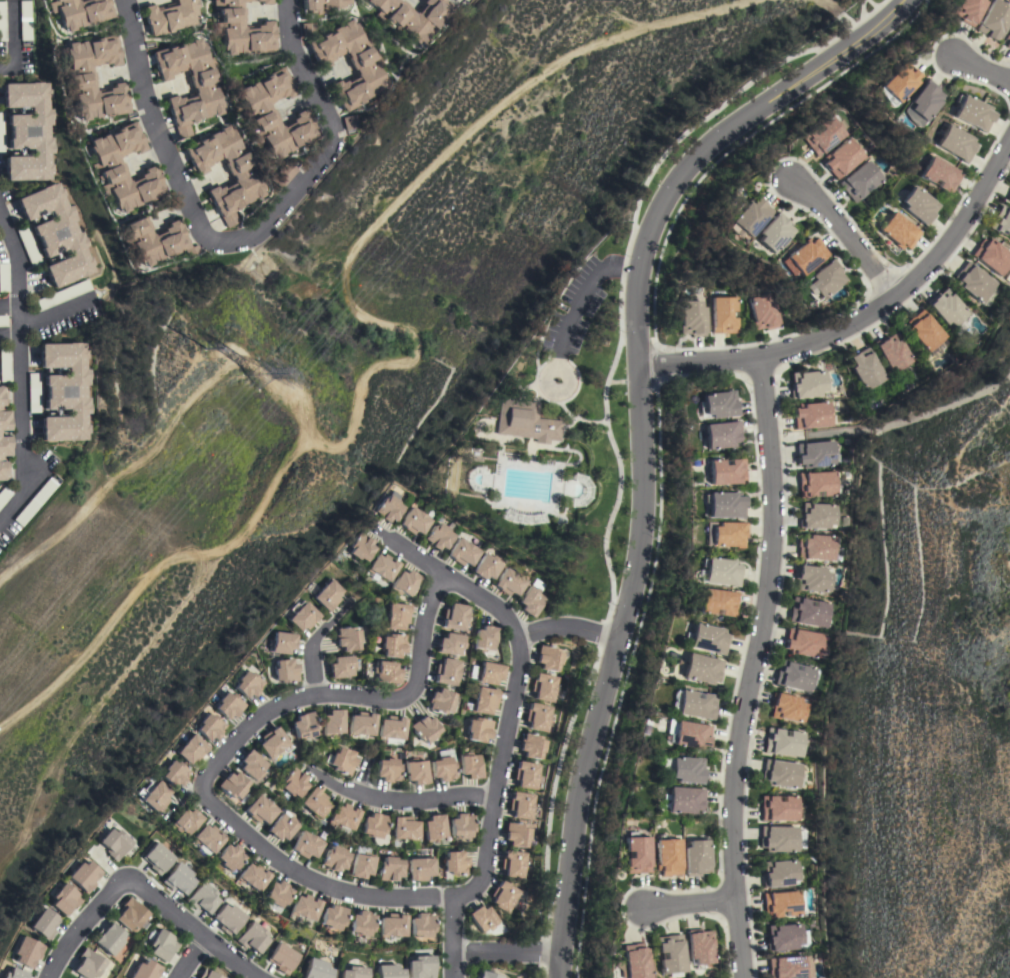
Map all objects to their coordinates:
building: (263, 1)
road: (870, 4)
building: (322, 5)
road: (860, 9)
building: (966, 10)
building: (80, 12)
building: (170, 16)
building: (412, 17)
building: (993, 19)
building: (26, 20)
building: (3, 21)
building: (307, 29)
building: (241, 30)
building: (1007, 39)
road: (16, 41)
building: (350, 63)
road: (981, 70)
building: (93, 78)
building: (897, 82)
building: (208, 89)
building: (920, 103)
building: (973, 112)
building: (275, 114)
building: (350, 122)
building: (27, 131)
building: (1, 133)
building: (822, 135)
building: (956, 143)
building: (841, 158)
building: (106, 167)
building: (283, 174)
building: (940, 174)
building: (245, 178)
building: (859, 181)
building: (1008, 197)
building: (919, 206)
building: (748, 217)
building: (1001, 220)
building: (898, 231)
building: (774, 233)
building: (55, 234)
road: (843, 235)
building: (1009, 237)
road: (239, 239)
building: (155, 240)
building: (27, 245)
building: (991, 255)
building: (803, 256)
building: (4, 277)
building: (822, 280)
building: (973, 281)
building: (63, 294)
road: (578, 297)
road: (10, 304)
building: (946, 307)
road: (56, 312)
building: (762, 312)
road: (861, 312)
building: (722, 315)
building: (692, 318)
building: (3, 320)
building: (923, 330)
road: (10, 336)
building: (892, 351)
building: (5, 364)
road: (21, 368)
power tower: (238, 368)
building: (864, 369)
building: (806, 384)
road: (566, 388)
building: (63, 391)
building: (33, 393)
building: (718, 404)
building: (3, 411)
building: (811, 415)
building: (525, 421)
road: (608, 431)
road: (639, 432)
building: (721, 434)
building: (815, 454)
building: (1, 458)
building: (725, 471)
building: (817, 484)
building: (4, 495)
building: (34, 502)
building: (724, 504)
building: (386, 509)
building: (816, 516)
building: (413, 521)
building: (724, 534)
building: (438, 536)
building: (358, 547)
building: (815, 547)
building: (463, 552)
building: (381, 567)
building: (486, 567)
building: (722, 572)
building: (811, 579)
building: (509, 582)
building: (403, 583)
building: (326, 595)
building: (532, 598)
building: (718, 602)
building: (808, 612)
building: (301, 616)
building: (396, 616)
building: (454, 617)
road: (566, 626)
building: (347, 639)
building: (484, 639)
building: (709, 639)
building: (280, 642)
building: (803, 642)
building: (451, 644)
building: (392, 645)
road: (309, 657)
building: (548, 658)
building: (341, 667)
road: (750, 667)
building: (702, 668)
building: (284, 671)
building: (386, 672)
building: (446, 672)
building: (488, 673)
building: (794, 675)
building: (247, 684)
building: (543, 687)
road: (345, 696)
building: (484, 700)
building: (441, 701)
building: (693, 703)
building: (228, 706)
building: (787, 707)
building: (537, 716)
building: (332, 723)
building: (361, 724)
building: (304, 725)
building: (209, 727)
road: (504, 728)
building: (424, 729)
building: (478, 729)
building: (391, 730)
building: (689, 734)
building: (783, 742)
building: (272, 743)
building: (531, 746)
building: (190, 749)
building: (342, 761)
building: (251, 765)
building: (470, 765)
building: (443, 766)
building: (387, 770)
building: (686, 770)
building: (416, 771)
building: (780, 773)
building: (173, 774)
building: (526, 775)
building: (293, 783)
building: (233, 785)
building: (152, 796)
road: (399, 797)
building: (684, 800)
building: (315, 803)
building: (520, 805)
building: (779, 808)
building: (259, 809)
building: (343, 816)
building: (185, 821)
building: (374, 825)
building: (461, 825)
building: (281, 827)
building: (433, 828)
building: (404, 829)
building: (516, 834)
building: (207, 838)
building: (778, 838)
building: (113, 843)
building: (306, 845)
building: (636, 853)
building: (667, 856)
building: (229, 857)
building: (157, 858)
building: (696, 858)
building: (334, 859)
building: (455, 863)
building: (513, 863)
building: (361, 865)
building: (420, 868)
building: (390, 869)
building: (779, 873)
building: (83, 876)
building: (252, 877)
building: (178, 878)
road: (308, 880)
building: (276, 893)
building: (503, 896)
building: (202, 898)
building: (64, 899)
building: (781, 903)
road: (686, 905)
building: (303, 907)
building: (130, 914)
building: (332, 917)
building: (482, 918)
building: (228, 919)
building: (43, 923)
building: (361, 923)
road: (81, 924)
building: (391, 925)
building: (421, 925)
road: (187, 928)
building: (252, 937)
building: (783, 937)
building: (108, 939)
building: (162, 944)
building: (699, 947)
building: (26, 952)
road: (505, 953)
building: (669, 953)
building: (282, 958)
road: (190, 959)
building: (633, 961)
building: (88, 964)
building: (421, 967)
building: (786, 967)
building: (316, 969)
building: (145, 970)
building: (388, 971)
building: (354, 972)
building: (14, 974)
building: (207, 974)
building: (485, 974)

